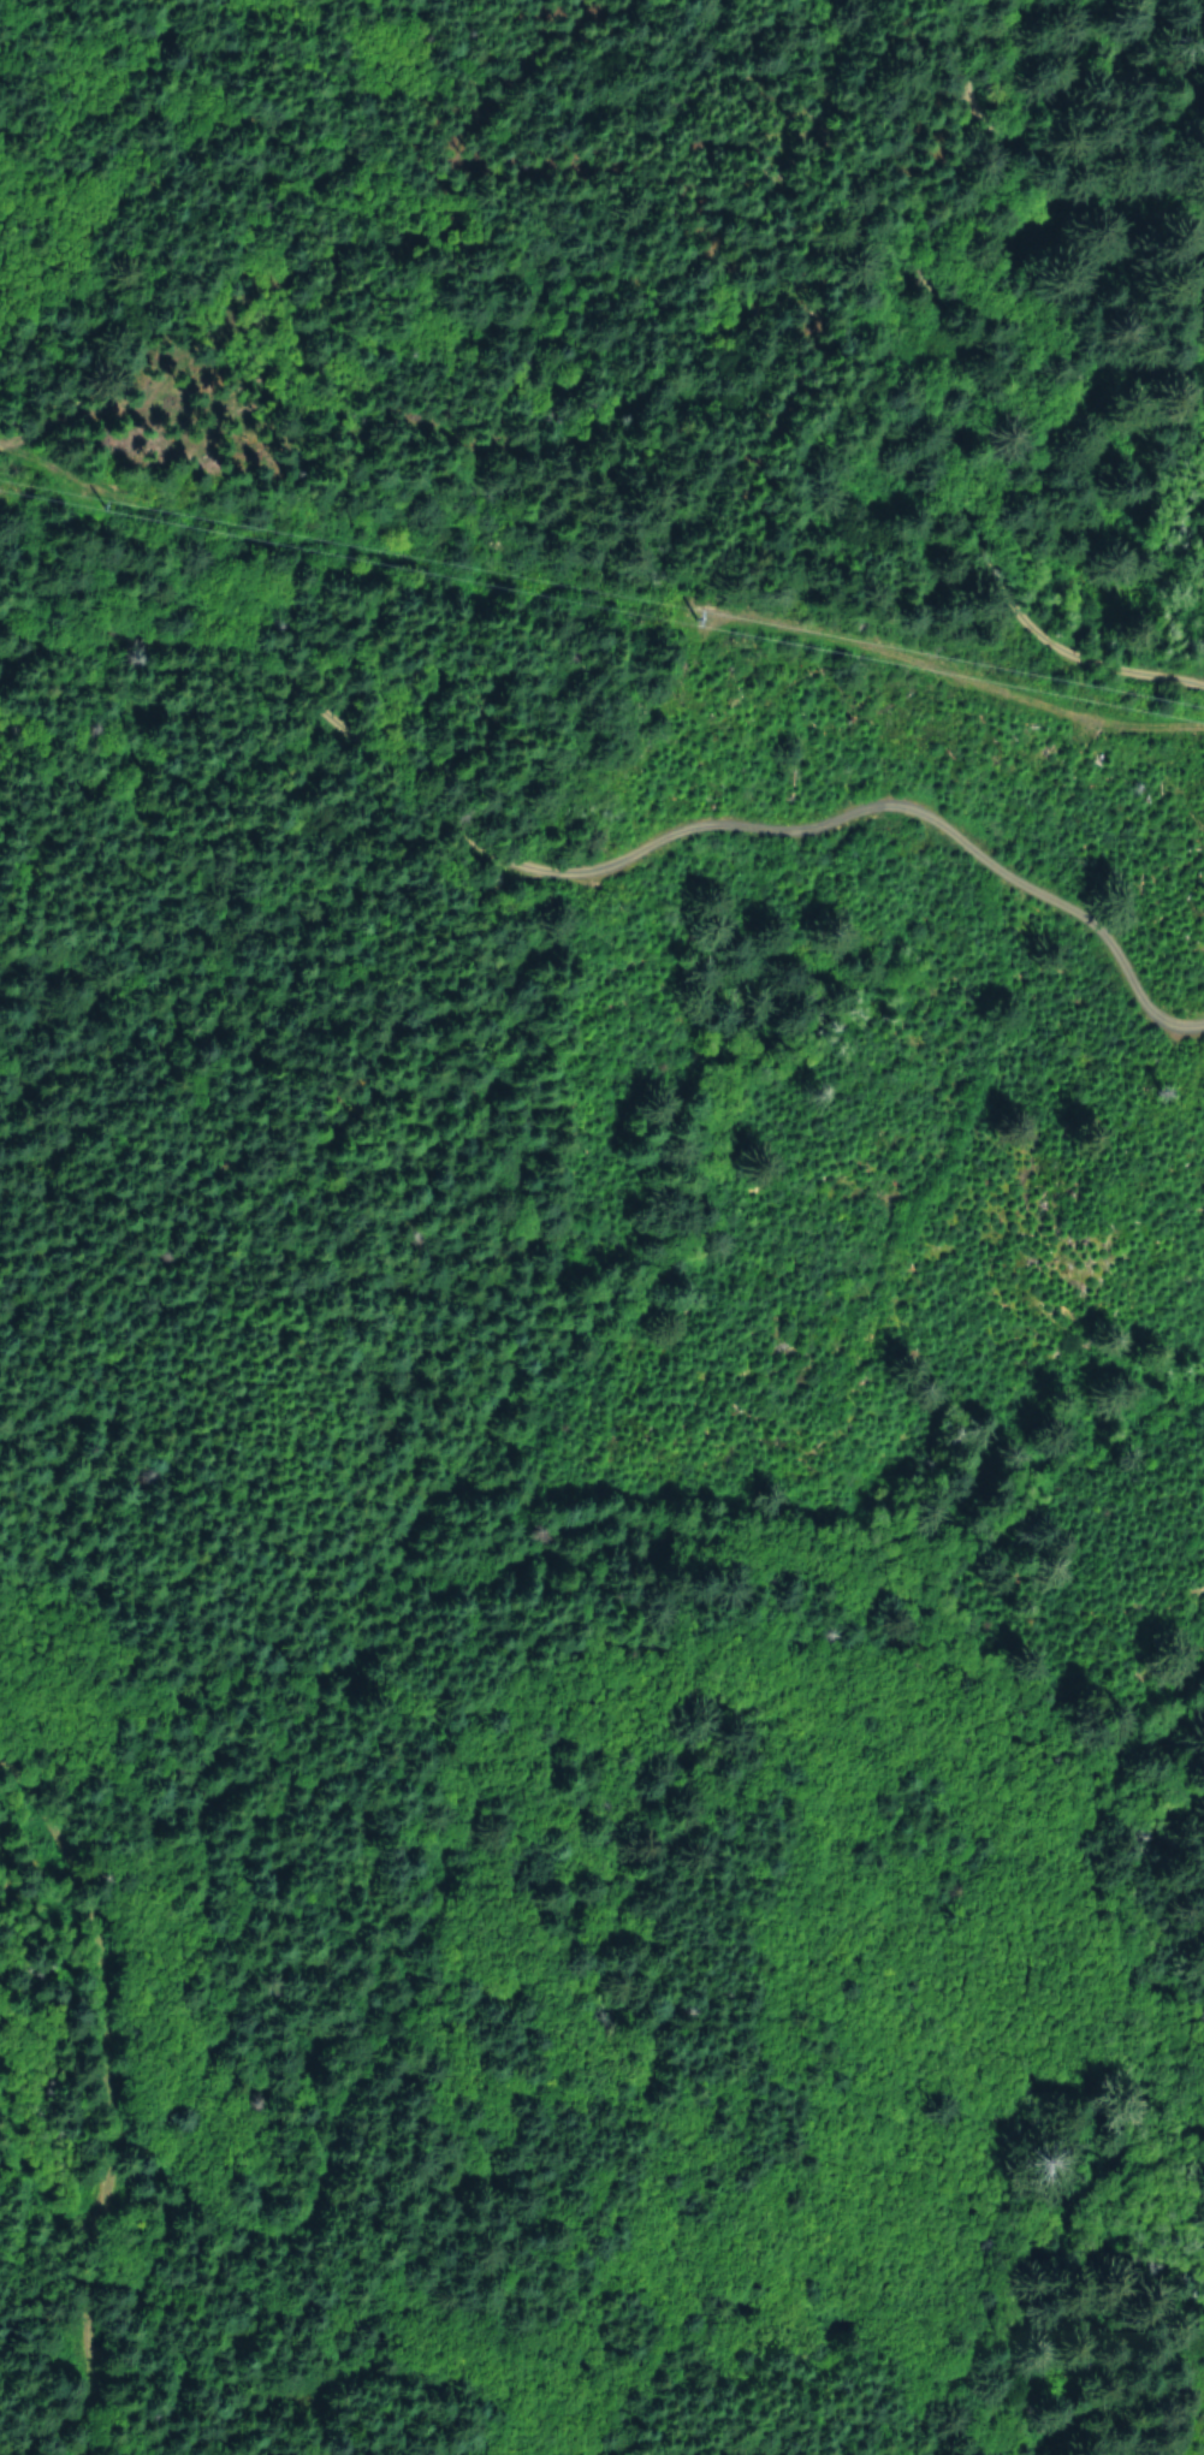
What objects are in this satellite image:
road: (1001, 389)
power tower: (700, 607)
road: (601, 858)
road: (291, 1132)
road: (109, 2107)
road: (1025, 2255)

